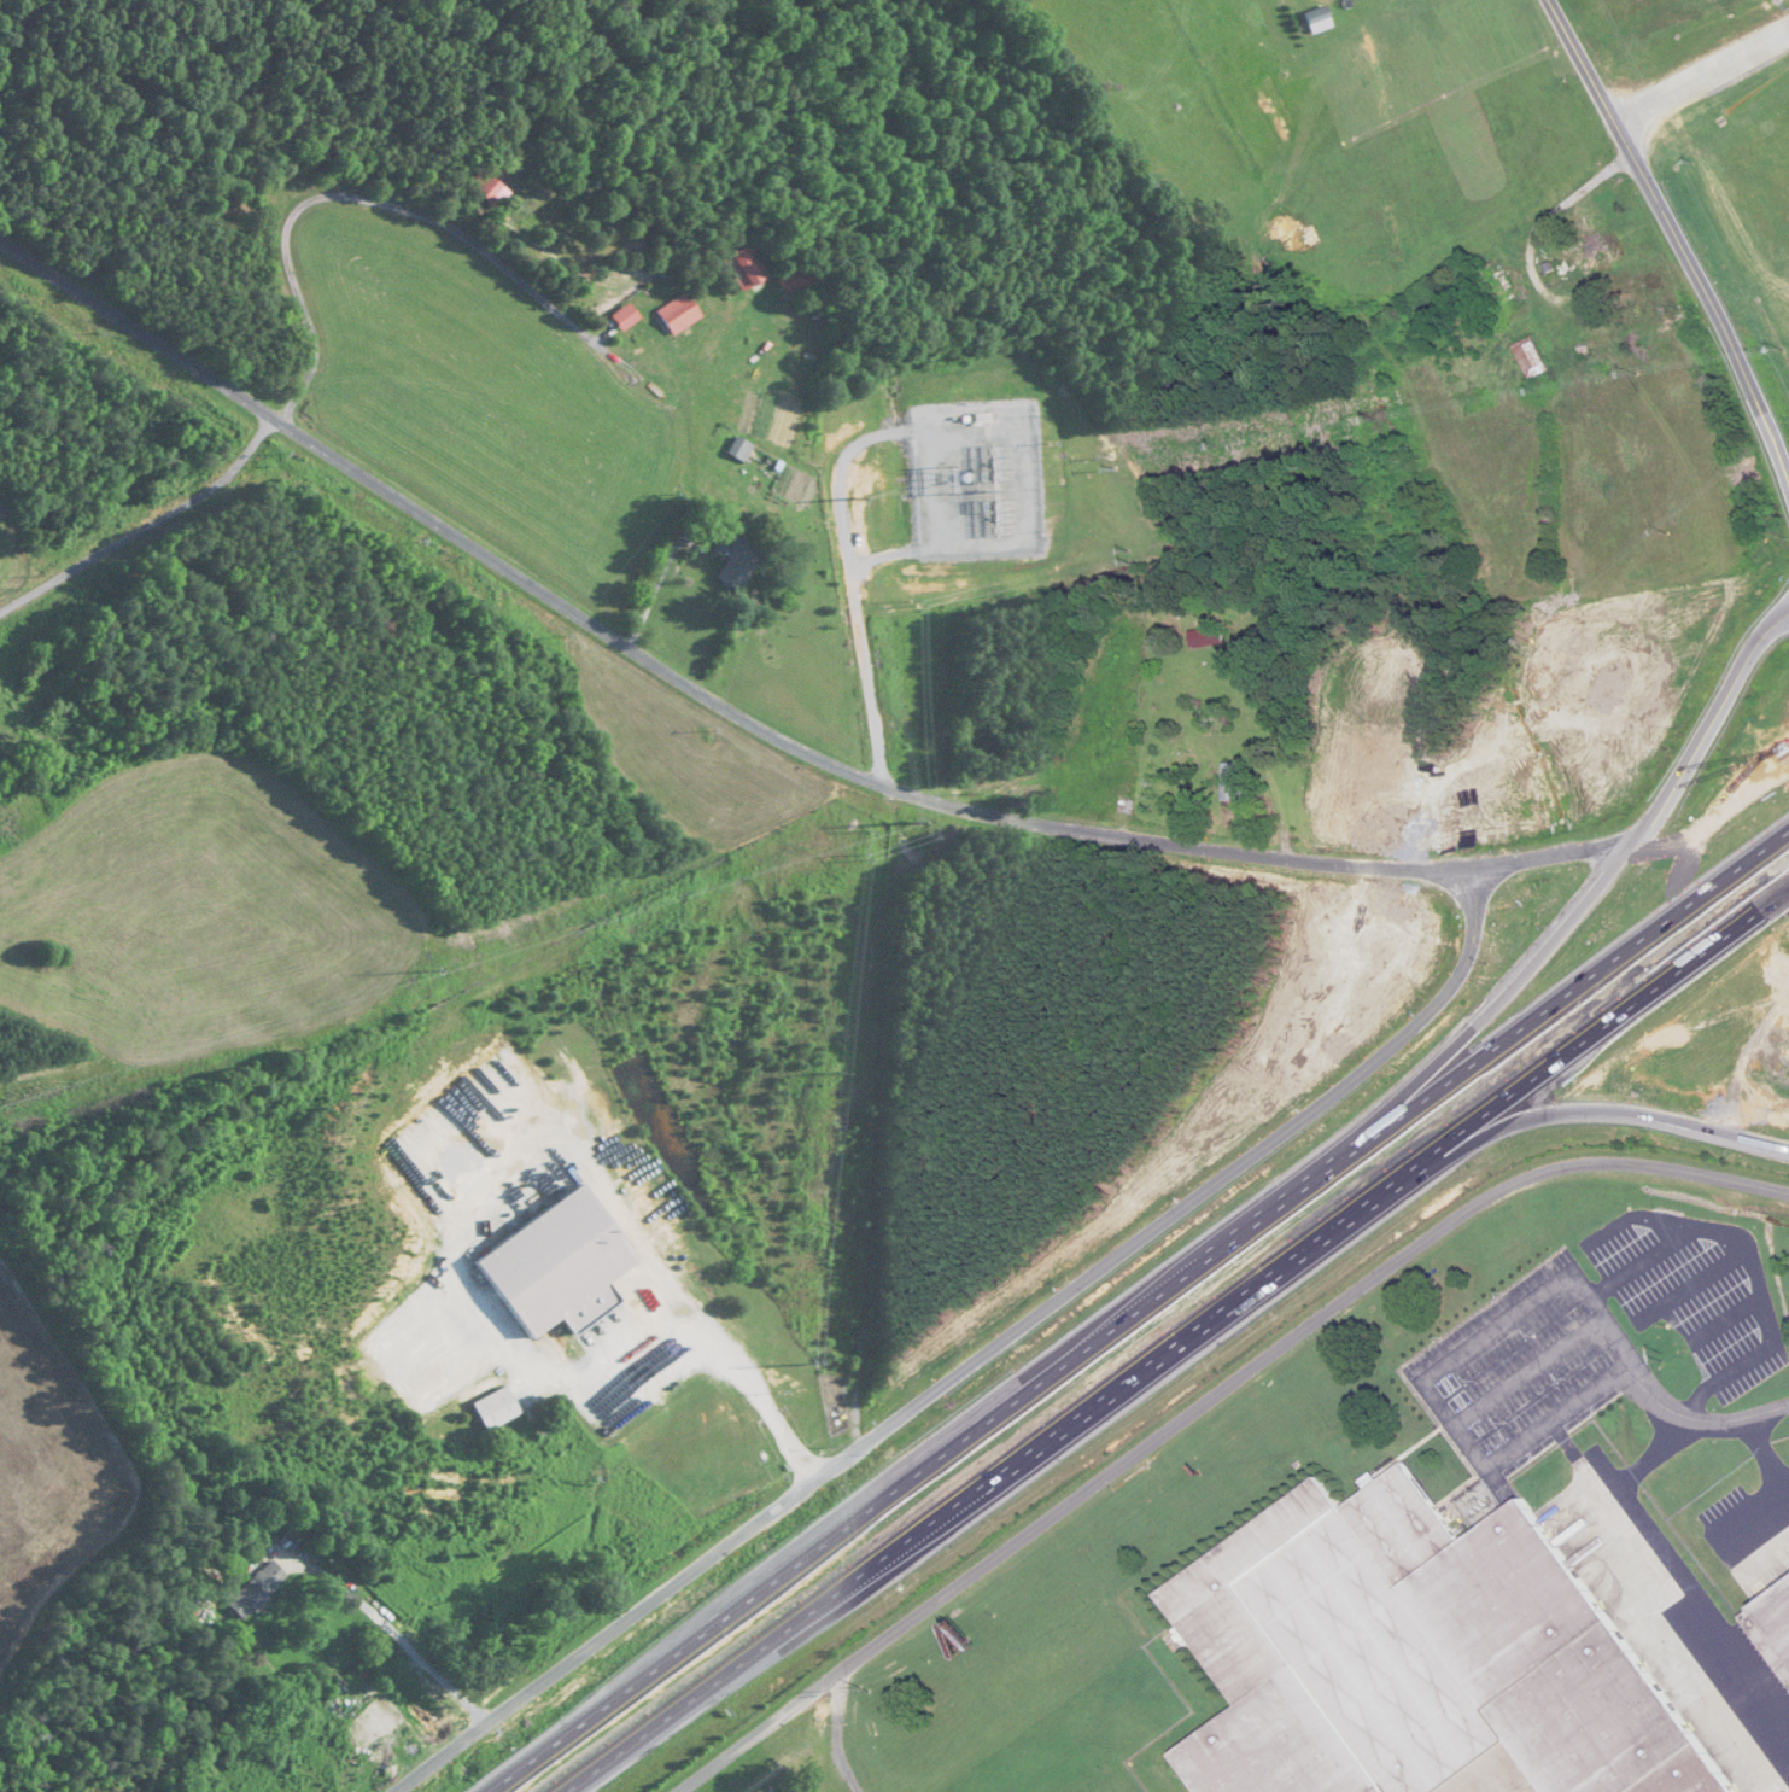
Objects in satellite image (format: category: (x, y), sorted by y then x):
road: (1578, 60)
road: (1700, 74)
road: (287, 228)
building: (1591, 255)
building: (743, 268)
building: (1498, 285)
building: (677, 315)
road: (1709, 340)
building: (1531, 360)
building: (738, 450)
power substation: (976, 479)
road: (150, 526)
building: (737, 567)
road: (1787, 568)
road: (1787, 574)
building: (1206, 638)
road: (633, 643)
road: (1362, 753)
building: (1233, 784)
road: (1485, 883)
building: (1543, 1009)
road: (1590, 1084)
road: (1749, 1187)
building: (557, 1268)
road: (1138, 1311)
road: (1175, 1341)
road: (1527, 1372)
road: (746, 1379)
road: (1428, 1379)
building: (493, 1408)
road: (1701, 1419)
road: (1174, 1422)
road: (1781, 1494)
road: (707, 1568)
road: (1699, 1584)
building: (253, 1592)
building: (1772, 1625)
road: (398, 1638)
building: (1417, 1660)
railway: (1192, 1791)

